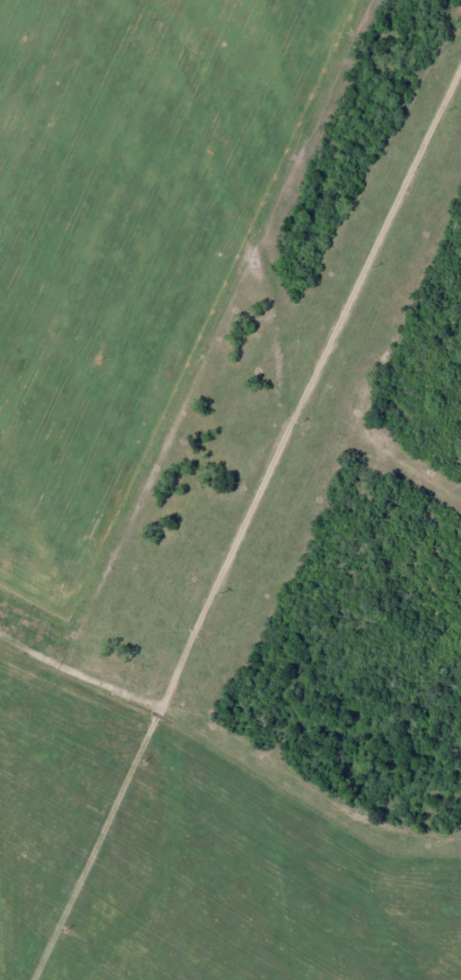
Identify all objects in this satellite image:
road: (247, 427)

